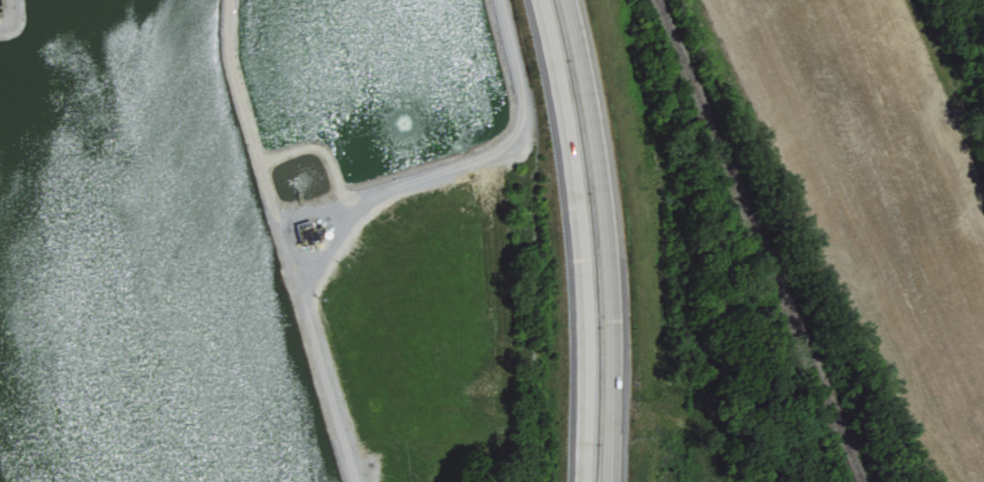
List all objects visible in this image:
road: (488, 152)
building: (303, 230)
road: (579, 239)
road: (605, 239)
railway: (752, 239)
railway: (854, 480)

